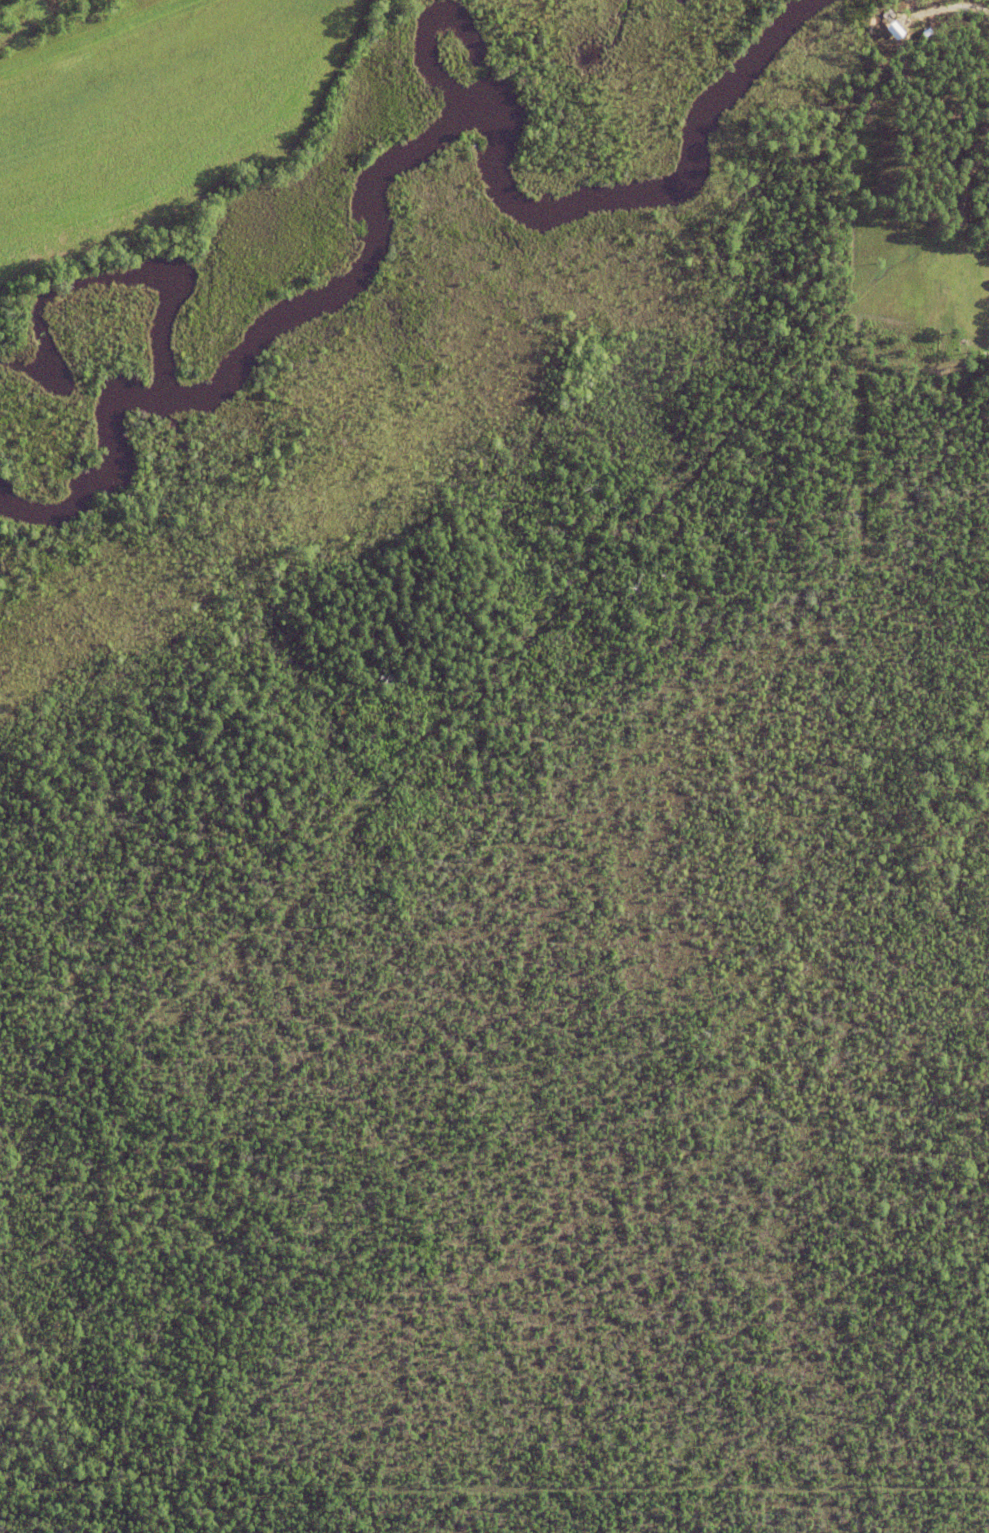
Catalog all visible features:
building: (893, 30)

